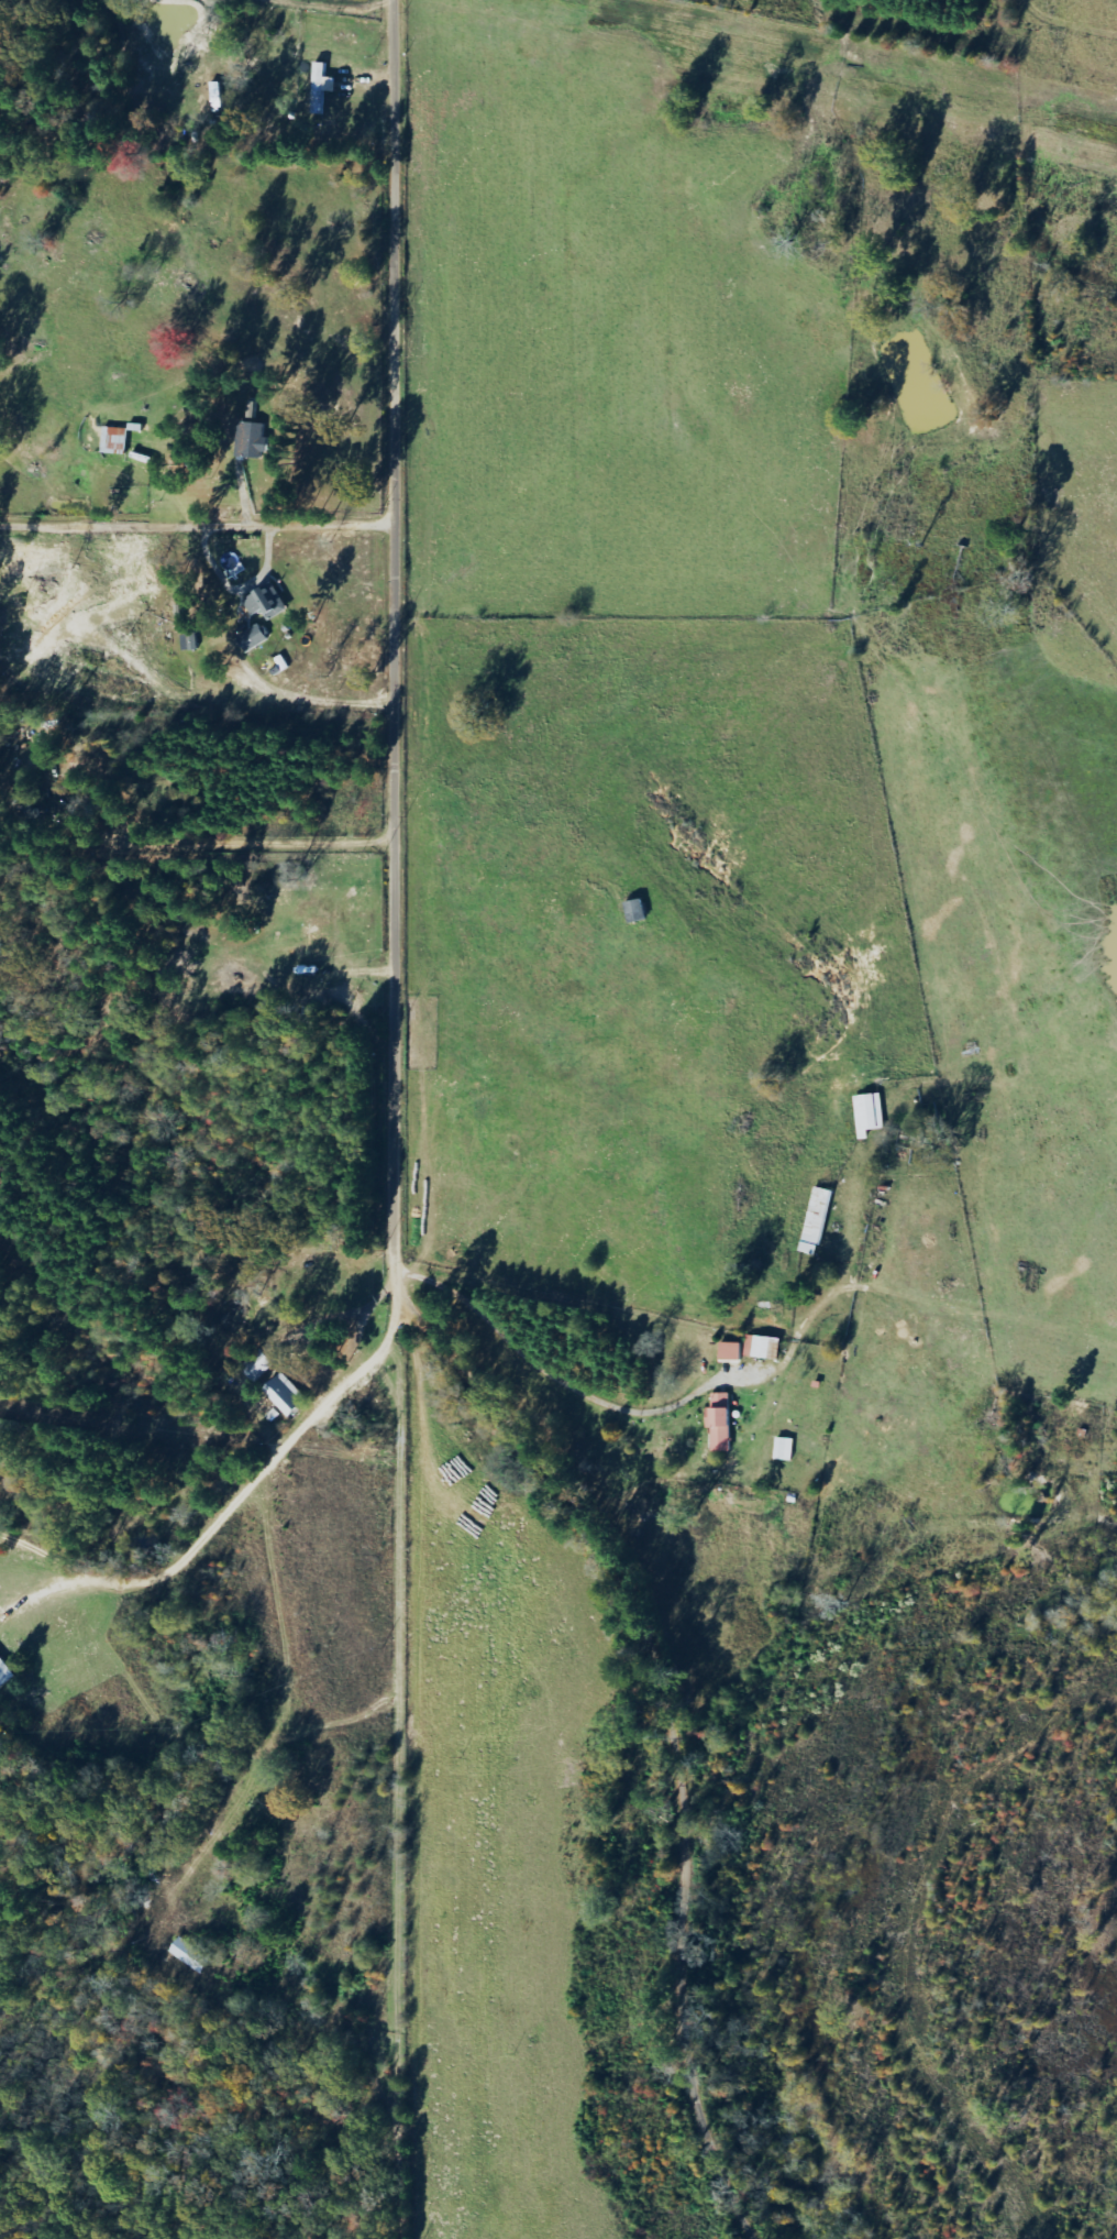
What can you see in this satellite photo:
building: (321, 85)
building: (114, 439)
building: (251, 439)
building: (266, 601)
building: (252, 637)
building: (186, 640)
road: (248, 850)
building: (635, 910)
building: (319, 940)
building: (869, 1112)
road: (390, 1185)
building: (816, 1219)
building: (763, 1346)
building: (731, 1349)
building: (285, 1393)
building: (720, 1419)
road: (259, 1595)
building: (4, 1671)
building: (190, 1953)

